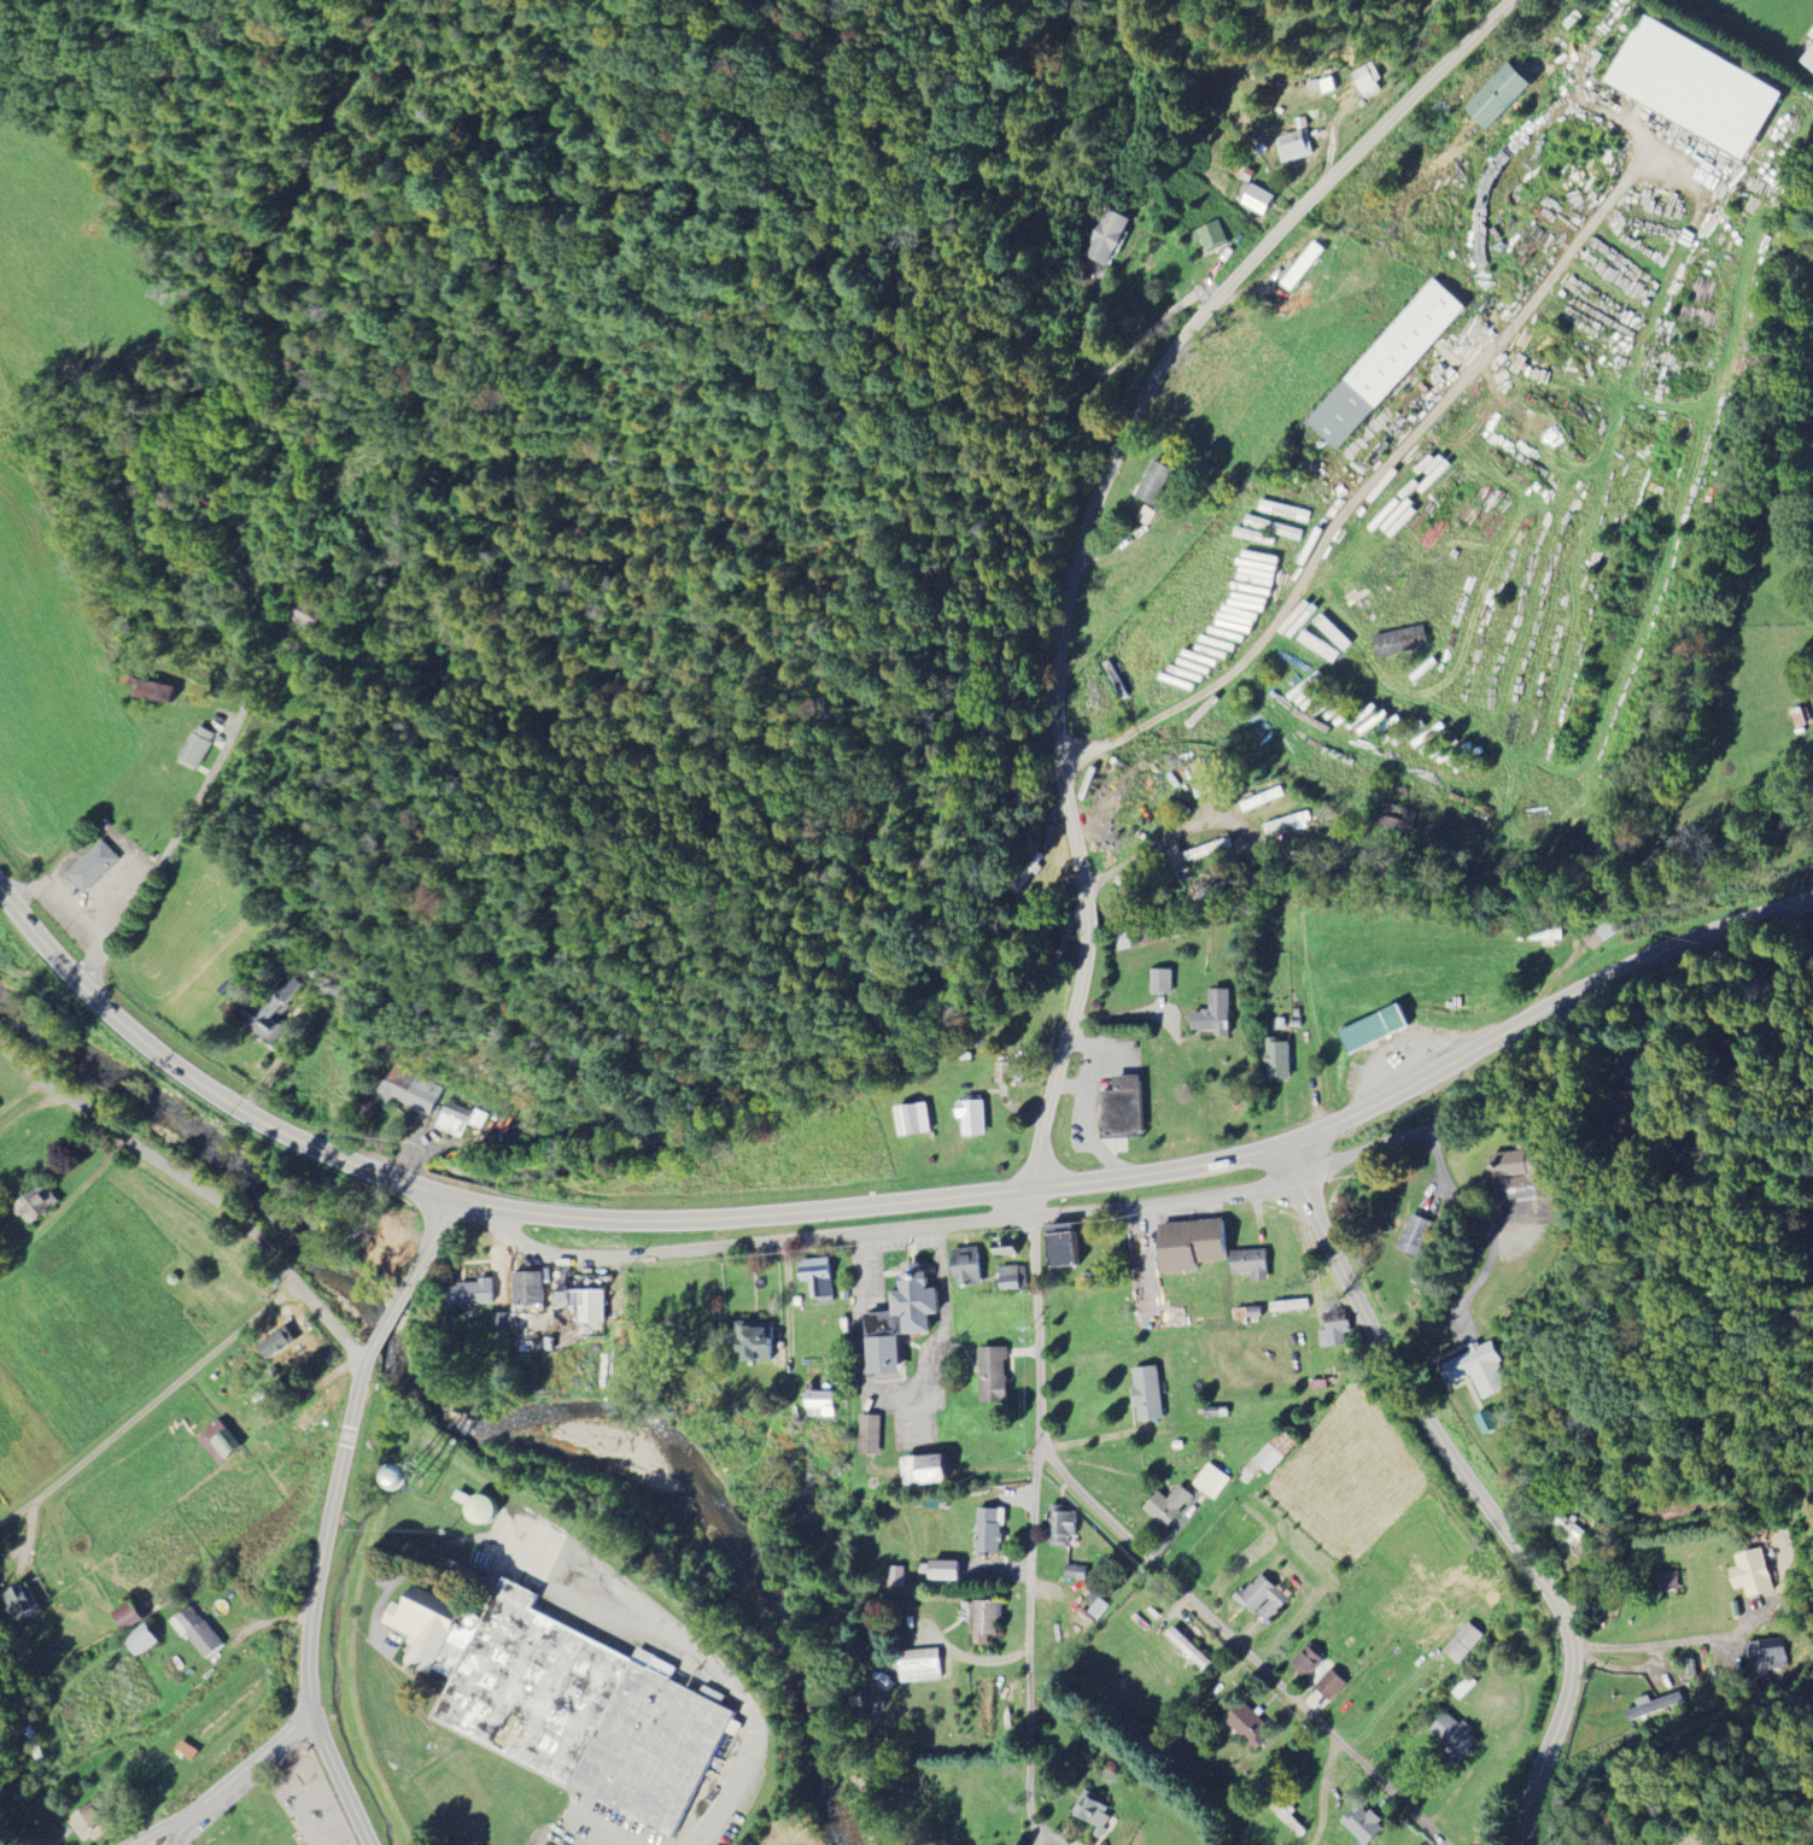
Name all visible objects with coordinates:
building: (1808, 59)
building: (1368, 80)
building: (1695, 87)
building: (1496, 96)
building: (1296, 146)
building: (1257, 199)
building: (1210, 236)
building: (1109, 238)
building: (1302, 266)
building: (1384, 365)
road: (1151, 389)
road: (1375, 479)
building: (1154, 482)
building: (1332, 633)
building: (1399, 642)
building: (1317, 646)
building: (151, 692)
building: (194, 748)
building: (1264, 802)
building: (1397, 820)
building: (1462, 824)
building: (1289, 825)
building: (1563, 831)
road: (1170, 837)
road: (169, 847)
building: (1210, 851)
building: (97, 866)
building: (1028, 874)
road: (77, 913)
road: (1088, 920)
building: (1603, 932)
building: (1543, 938)
building: (1139, 939)
building: (1163, 983)
building: (273, 1006)
road: (1542, 1011)
building: (1217, 1019)
building: (1297, 1025)
building: (1376, 1032)
road: (159, 1050)
road: (1060, 1061)
building: (1279, 1064)
building: (1008, 1074)
building: (407, 1088)
road: (1502, 1099)
building: (1125, 1105)
building: (0, 1107)
building: (1626, 1114)
building: (458, 1119)
building: (972, 1120)
building: (916, 1123)
building: (1521, 1171)
road: (396, 1178)
road: (199, 1185)
road: (1031, 1202)
building: (42, 1203)
road: (858, 1207)
road: (890, 1229)
building: (1415, 1232)
building: (1007, 1247)
building: (1193, 1248)
road: (429, 1249)
building: (1065, 1249)
road: (1146, 1250)
building: (388, 1257)
building: (1251, 1264)
building: (970, 1266)
building: (1013, 1278)
building: (819, 1279)
building: (532, 1288)
building: (474, 1293)
building: (847, 1296)
building: (584, 1301)
building: (1291, 1307)
building: (1248, 1314)
building: (903, 1320)
road: (388, 1325)
building: (504, 1325)
building: (1338, 1329)
road: (1040, 1332)
building: (759, 1340)
building: (532, 1347)
building: (293, 1355)
building: (1481, 1367)
building: (998, 1378)
building: (1320, 1384)
building: (1152, 1393)
road: (901, 1395)
building: (824, 1404)
road: (150, 1406)
building: (1216, 1414)
building: (312, 1418)
building: (872, 1436)
building: (223, 1441)
building: (1274, 1454)
building: (929, 1468)
water tower: (422, 1480)
building: (1215, 1481)
road: (1474, 1488)
building: (1170, 1505)
building: (479, 1510)
building: (1064, 1525)
building: (990, 1530)
building: (946, 1570)
building: (1076, 1574)
building: (1751, 1574)
building: (899, 1577)
building: (1666, 1582)
building: (1264, 1597)
road: (318, 1600)
building: (24, 1601)
building: (1400, 1610)
building: (131, 1615)
building: (987, 1618)
road: (1031, 1622)
building: (200, 1634)
building: (144, 1638)
road: (1669, 1641)
building: (1462, 1644)
road: (1244, 1647)
building: (1191, 1648)
building: (1767, 1654)
building: (1310, 1660)
building: (923, 1667)
building: (1332, 1685)
building: (1467, 1687)
building: (568, 1703)
building: (1649, 1705)
building: (1251, 1726)
building: (1456, 1736)
road: (233, 1787)
road: (1323, 1791)
building: (1096, 1814)
building: (1289, 1815)
building: (95, 1821)
building: (1365, 1823)
road: (598, 1829)
building: (0, 1833)
road: (183, 1833)
building: (1076, 1843)
building: (1421, 1844)

